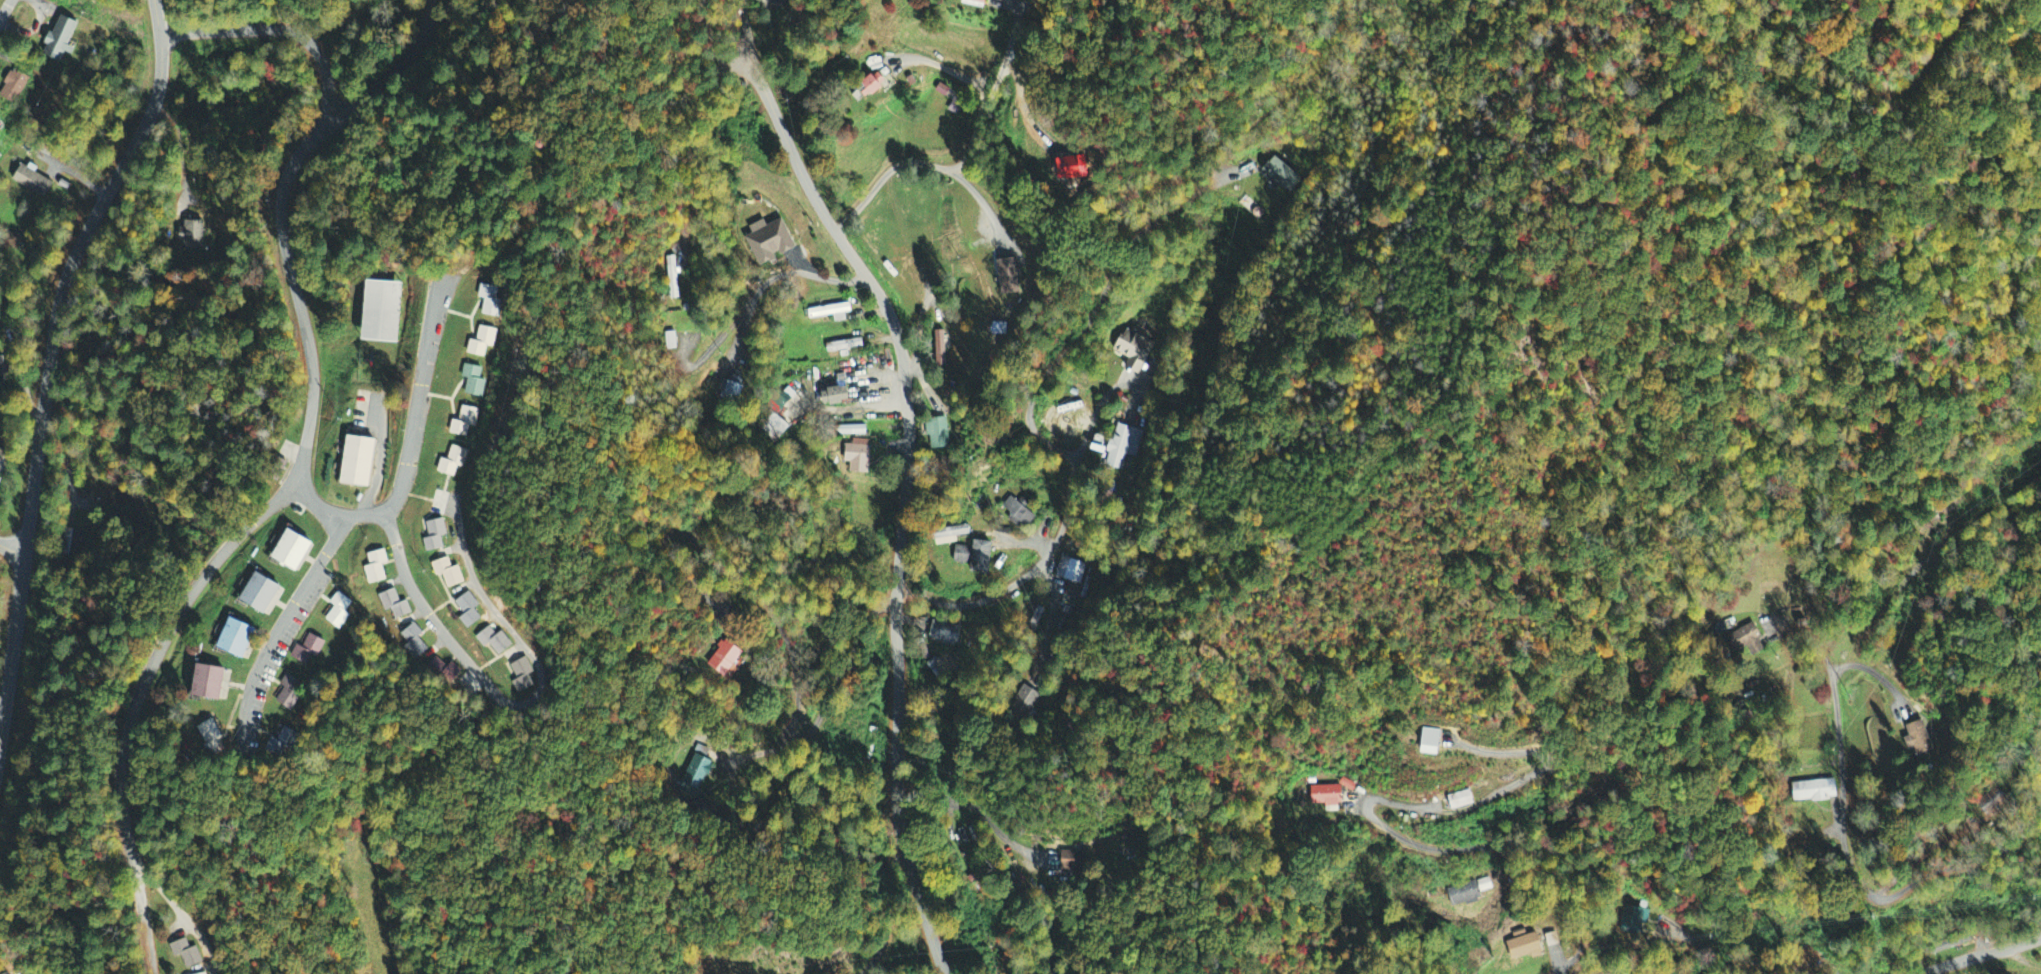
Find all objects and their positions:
building: (996, 0)
building: (776, 2)
building: (973, 3)
road: (5, 9)
building: (60, 40)
road: (943, 68)
road: (392, 80)
building: (14, 87)
building: (865, 88)
road: (965, 155)
building: (1076, 168)
building: (1281, 175)
building: (33, 182)
road: (975, 200)
building: (192, 235)
building: (769, 242)
road: (778, 275)
building: (1009, 277)
building: (491, 301)
building: (381, 312)
building: (832, 313)
building: (482, 342)
building: (845, 346)
building: (1134, 351)
road: (48, 355)
building: (2, 371)
building: (474, 381)
building: (730, 392)
building: (838, 394)
road: (1029, 415)
building: (464, 422)
building: (937, 434)
building: (1122, 447)
road: (408, 450)
road: (301, 451)
building: (858, 459)
building: (360, 461)
building: (453, 462)
road: (904, 470)
building: (1019, 515)
building: (950, 535)
building: (436, 536)
building: (71, 540)
road: (12, 549)
building: (294, 550)
building: (976, 557)
building: (377, 568)
building: (1070, 570)
building: (449, 573)
building: (262, 593)
building: (395, 605)
building: (338, 611)
building: (469, 611)
road: (280, 625)
building: (944, 634)
building: (238, 639)
building: (495, 641)
building: (1751, 641)
building: (415, 642)
building: (309, 650)
building: (724, 659)
building: (446, 670)
building: (523, 676)
building: (211, 682)
building: (291, 692)
building: (1023, 705)
road: (524, 707)
building: (213, 738)
building: (1918, 738)
building: (1431, 743)
building: (283, 746)
building: (1348, 786)
building: (1814, 792)
building: (1327, 796)
building: (1461, 800)
road: (960, 803)
road: (1512, 850)
building: (1071, 863)
road: (1855, 883)
building: (1469, 893)
road: (188, 914)
building: (1526, 948)
building: (187, 954)
road: (1983, 955)

